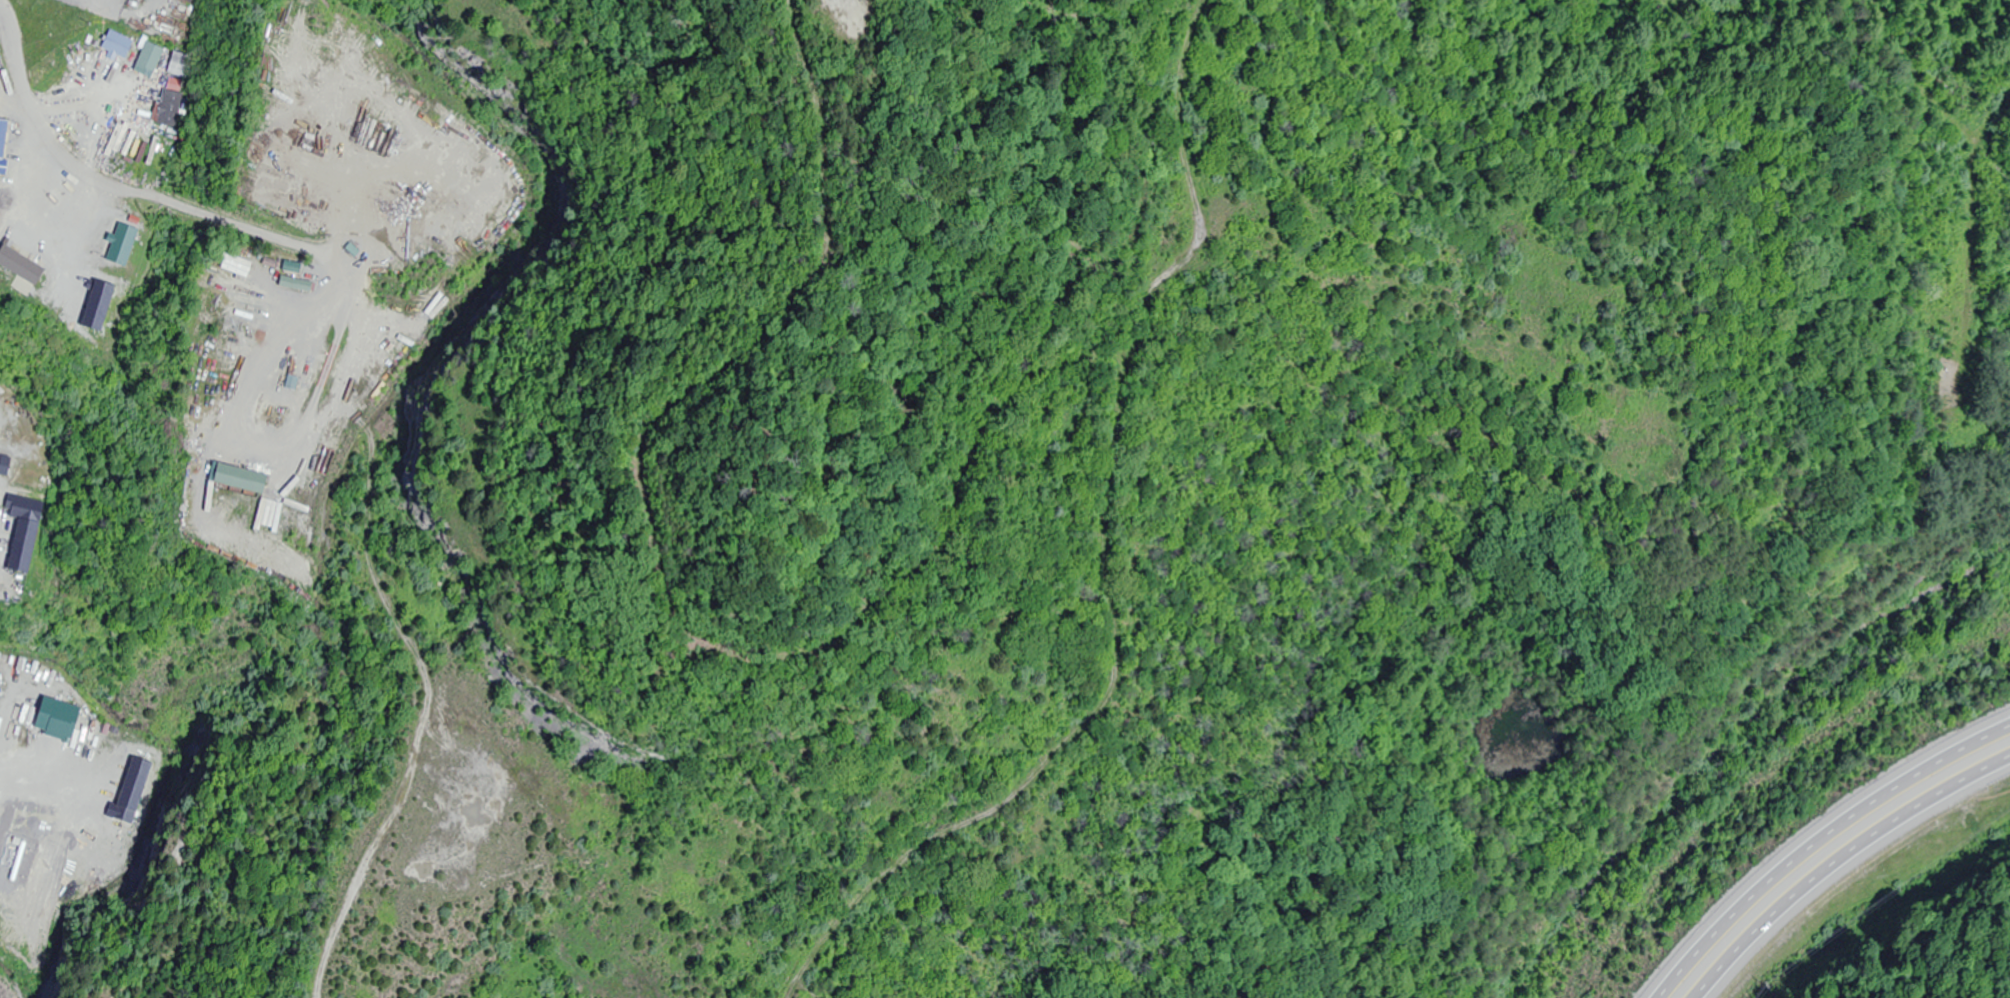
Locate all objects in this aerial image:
building: (145, 60)
building: (169, 109)
building: (96, 232)
building: (292, 284)
building: (296, 372)
building: (8, 466)
building: (232, 479)
building: (256, 517)
road: (1821, 842)
road: (1839, 859)

